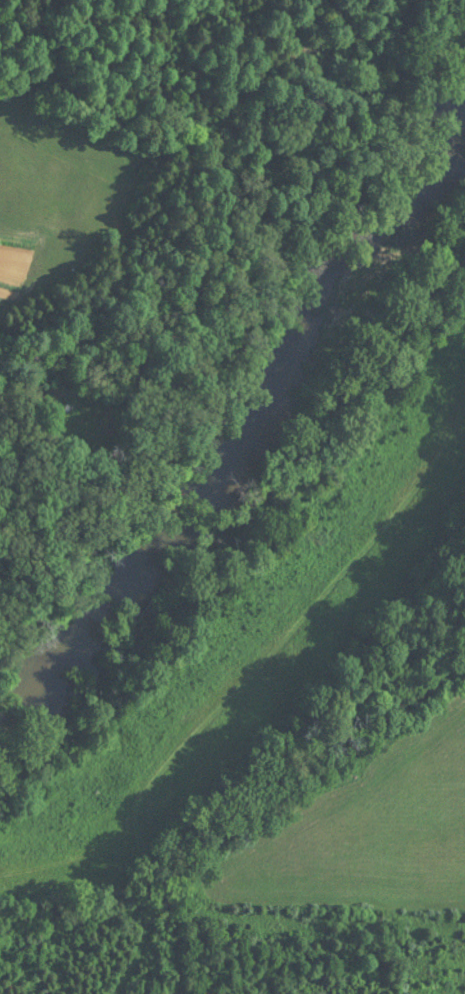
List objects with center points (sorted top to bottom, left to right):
river: (236, 436)

